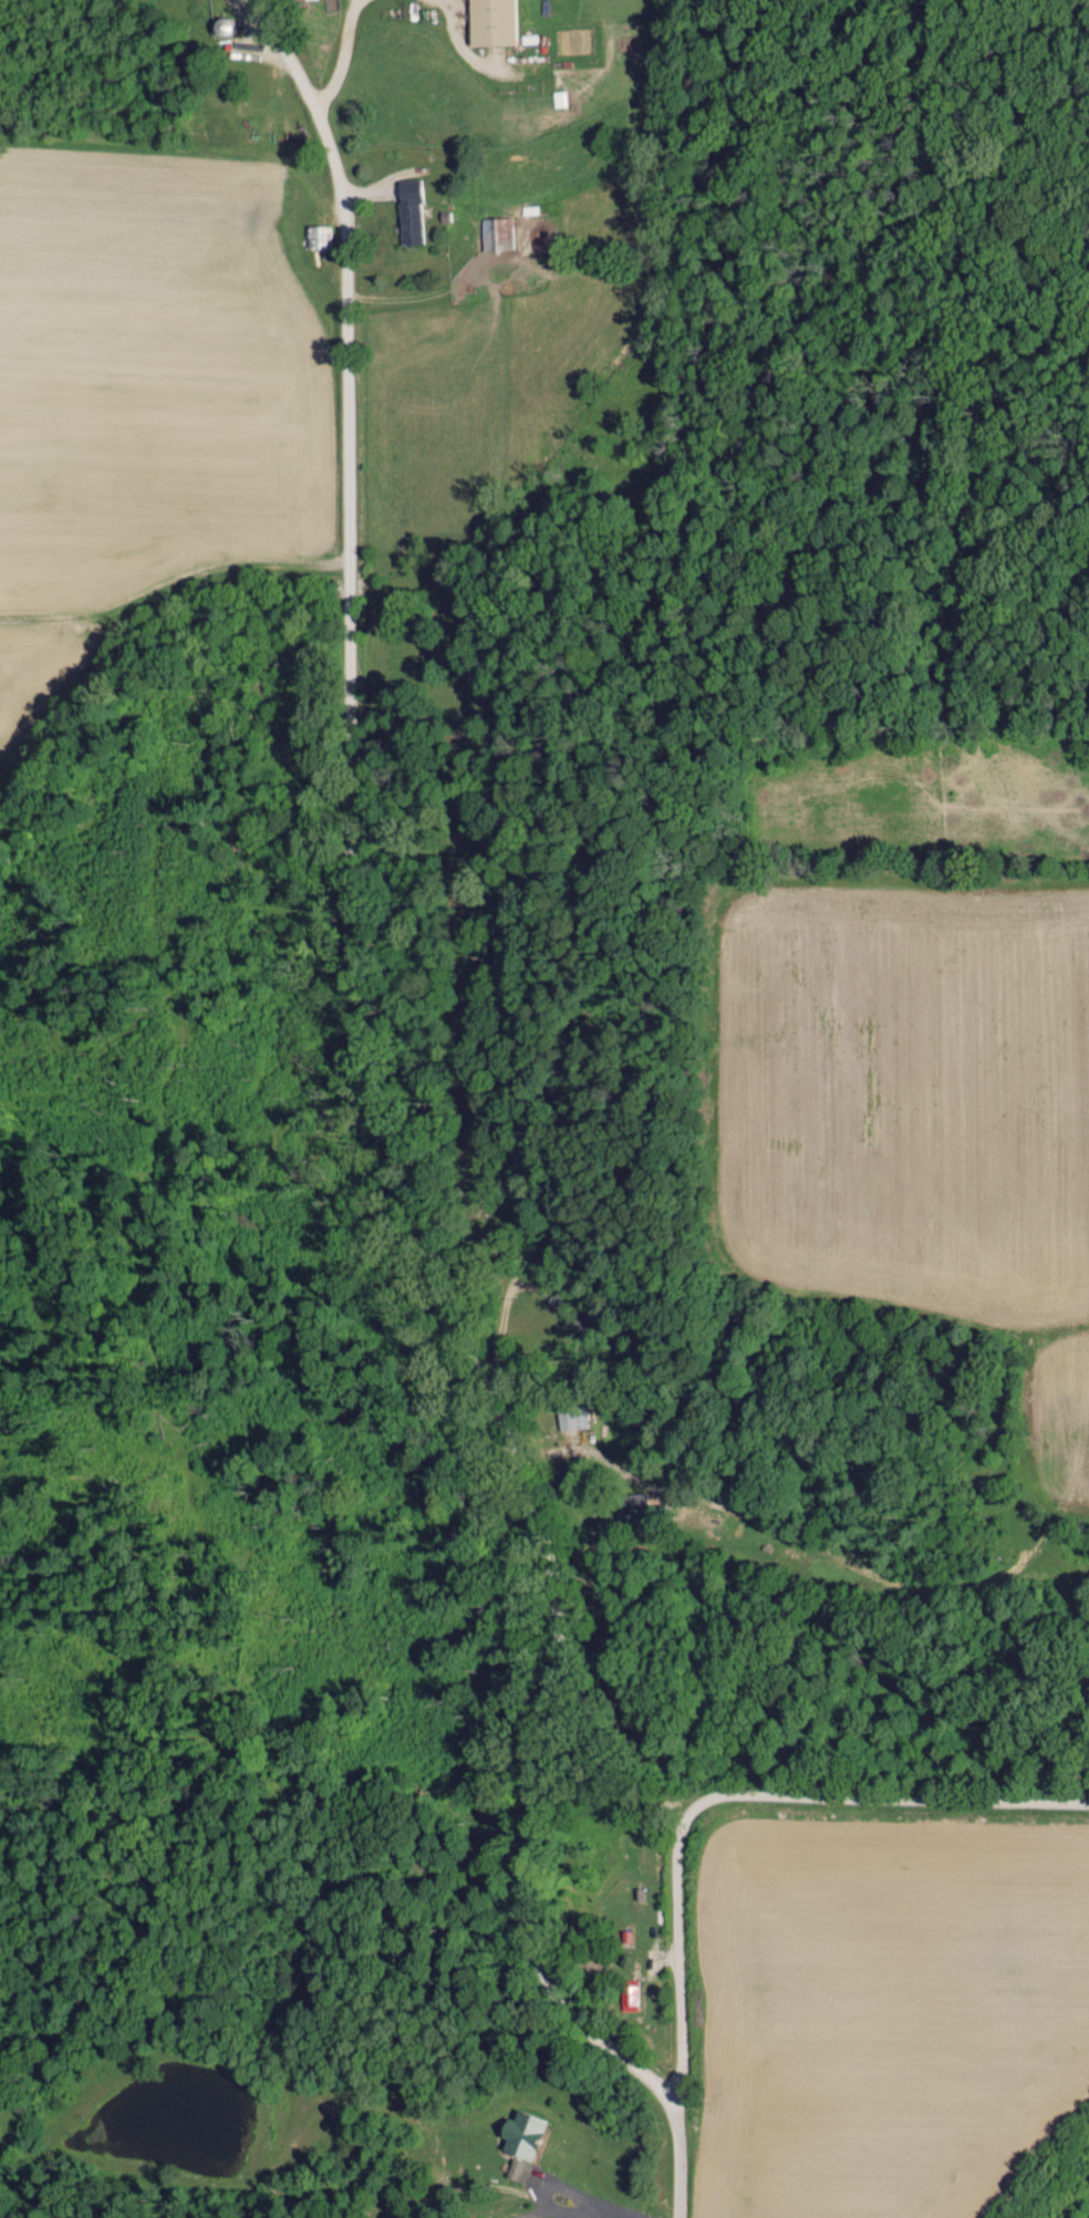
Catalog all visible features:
building: (488, 21)
building: (558, 97)
building: (407, 210)
building: (495, 232)
building: (317, 236)
road: (397, 1139)
building: (580, 1418)
road: (735, 1794)
building: (626, 1994)
building: (518, 2133)
building: (516, 2169)

